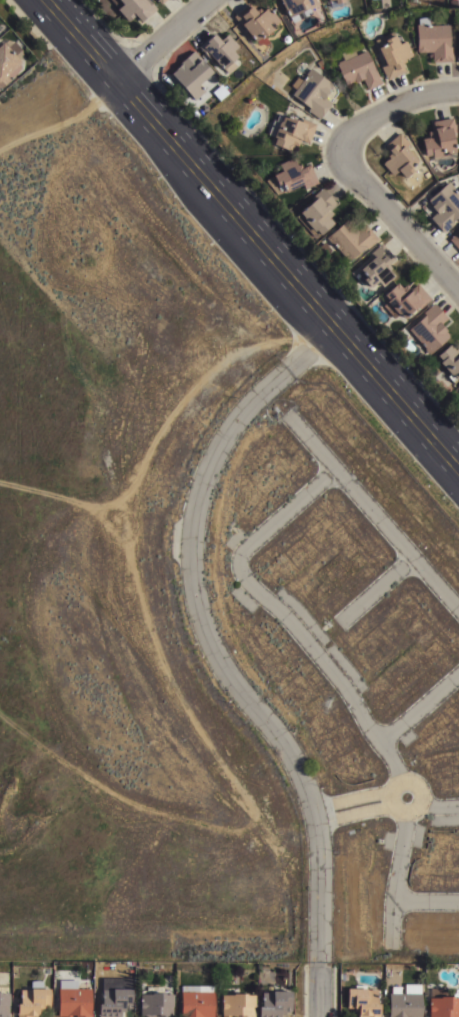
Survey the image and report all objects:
building: (159, 1)
building: (335, 3)
building: (297, 7)
building: (133, 8)
building: (255, 23)
road: (165, 38)
building: (434, 41)
building: (219, 51)
building: (392, 55)
building: (458, 55)
building: (7, 61)
building: (357, 69)
building: (191, 75)
building: (311, 92)
road: (394, 108)
building: (291, 133)
building: (438, 139)
building: (397, 157)
building: (292, 177)
building: (332, 191)
building: (442, 207)
building: (317, 213)
road: (397, 221)
road: (256, 233)
building: (351, 240)
building: (455, 240)
building: (325, 249)
building: (377, 269)
building: (405, 301)
building: (430, 330)
road: (310, 346)
building: (450, 364)
road: (373, 511)
road: (376, 589)
road: (280, 615)
road: (220, 665)
road: (418, 705)
road: (351, 797)
road: (439, 803)
road: (412, 812)
road: (353, 813)
road: (395, 878)
road: (426, 899)
building: (47, 971)
road: (320, 992)
building: (114, 1001)
building: (155, 1001)
building: (196, 1001)
building: (363, 1001)
building: (405, 1001)
building: (32, 1002)
building: (74, 1002)
building: (274, 1003)
building: (443, 1003)
building: (4, 1005)
building: (237, 1005)

